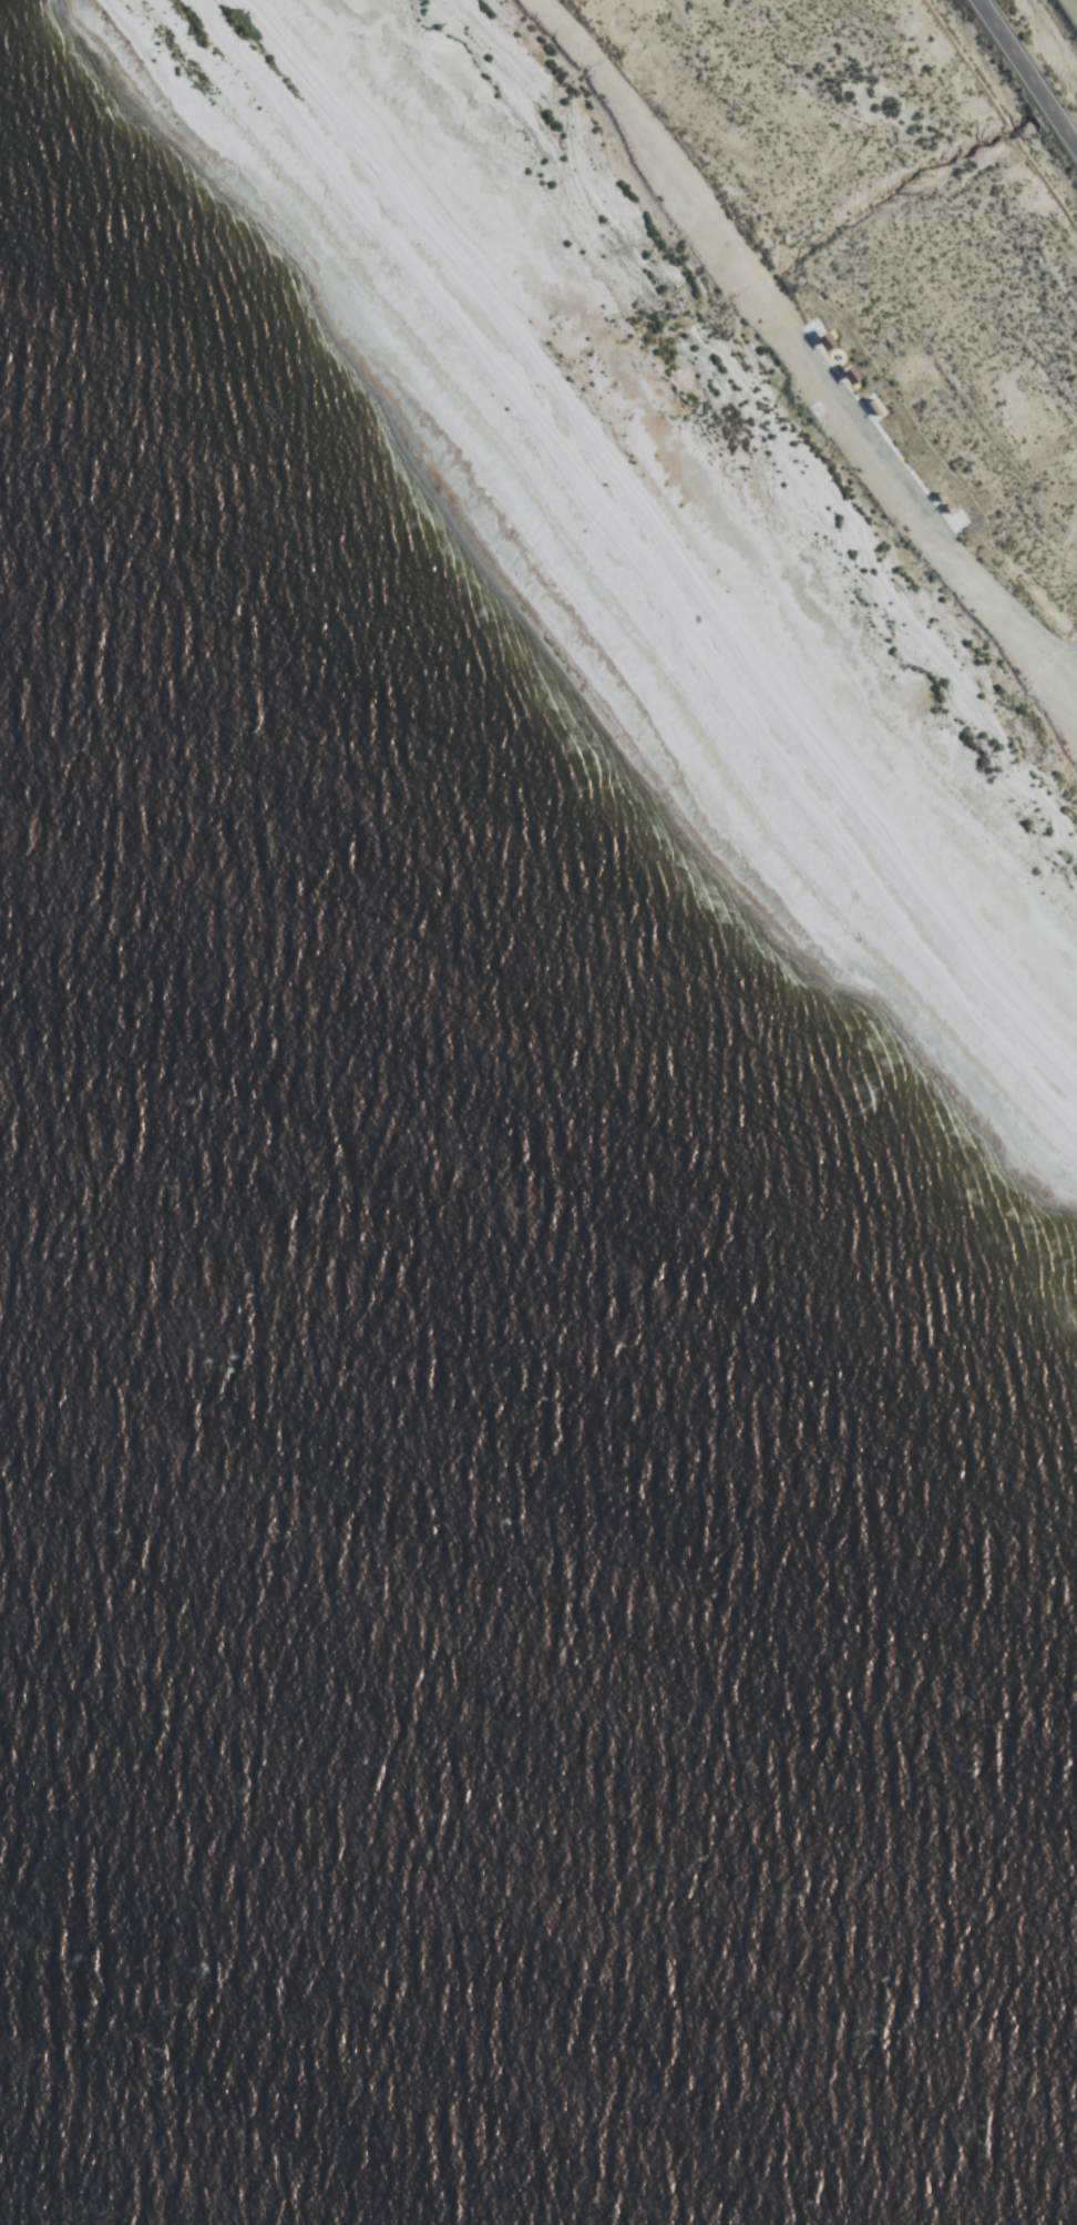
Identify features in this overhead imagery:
road: (1026, 76)
road: (783, 466)

